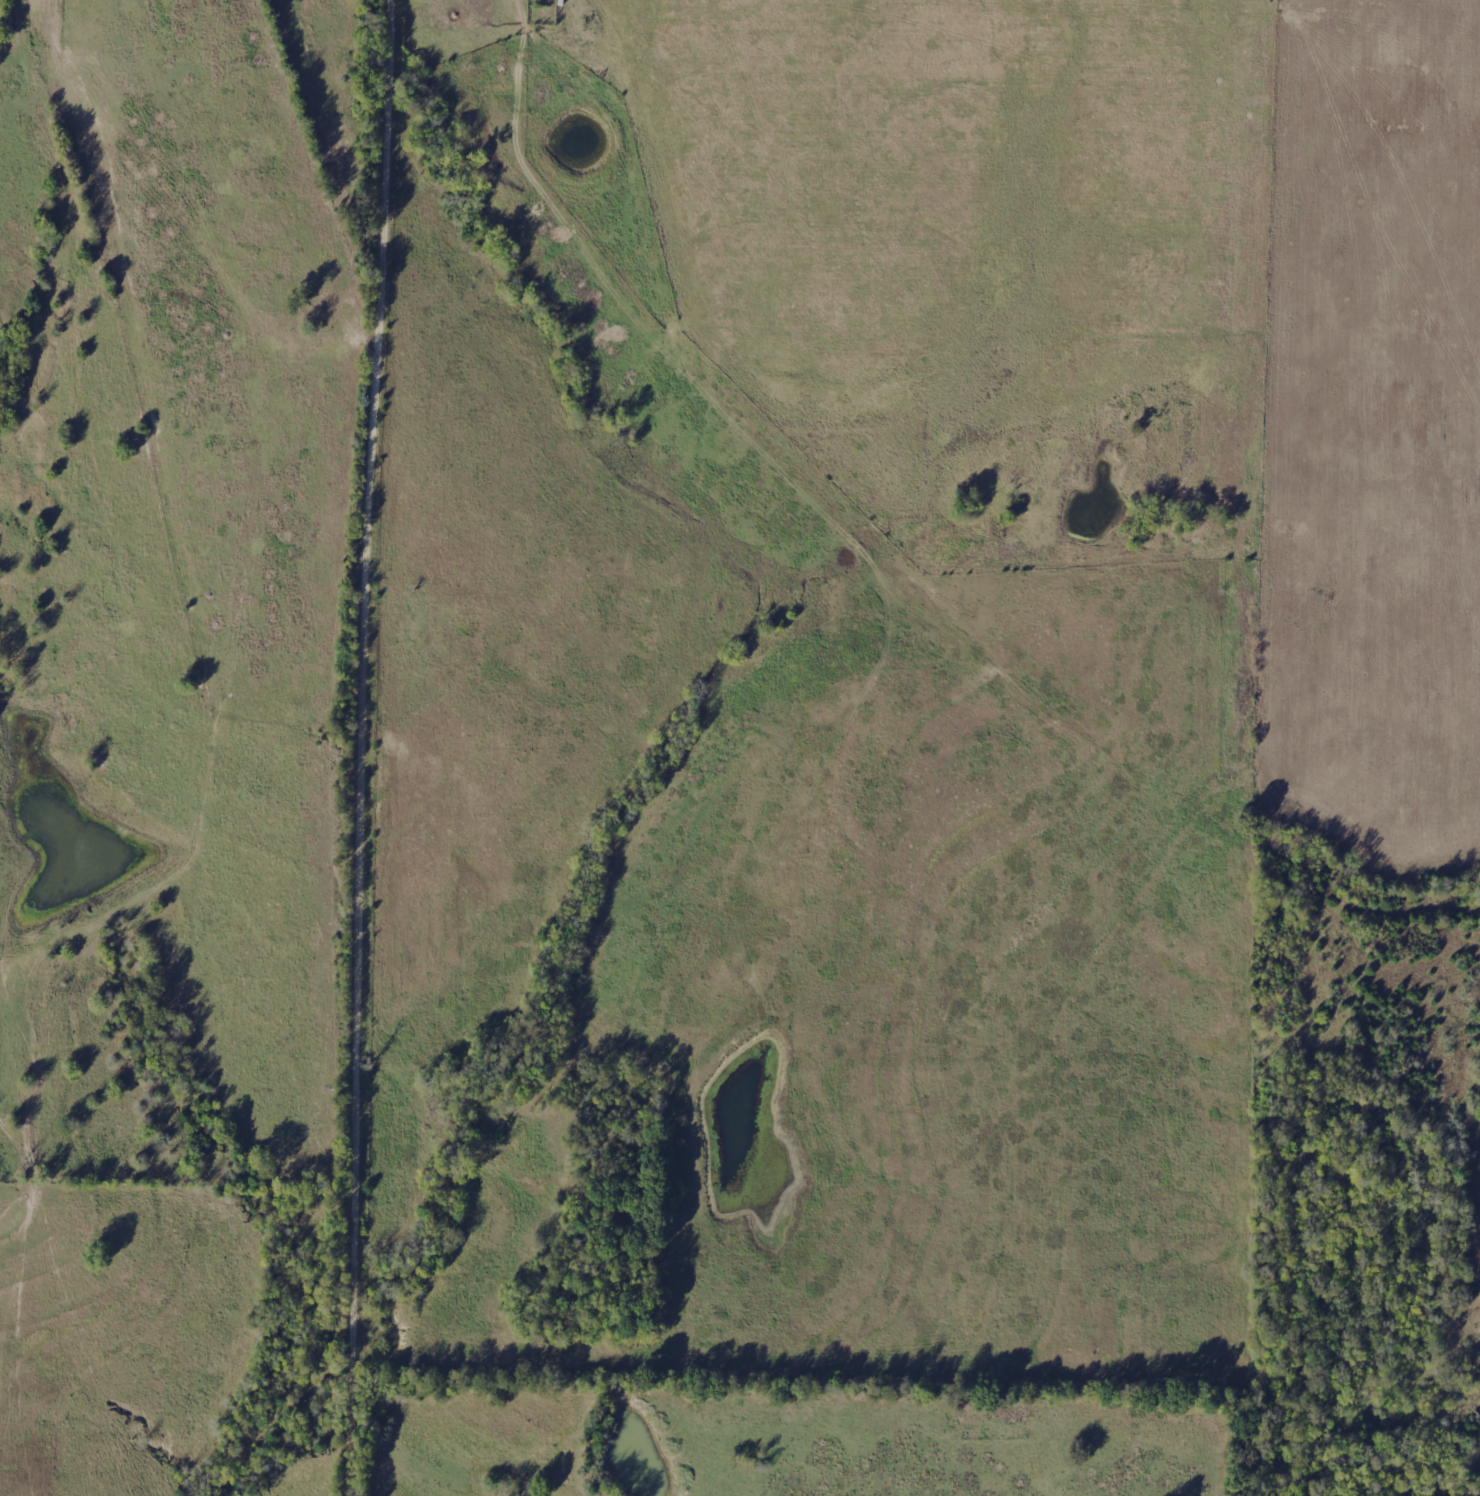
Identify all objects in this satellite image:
road: (374, 748)

